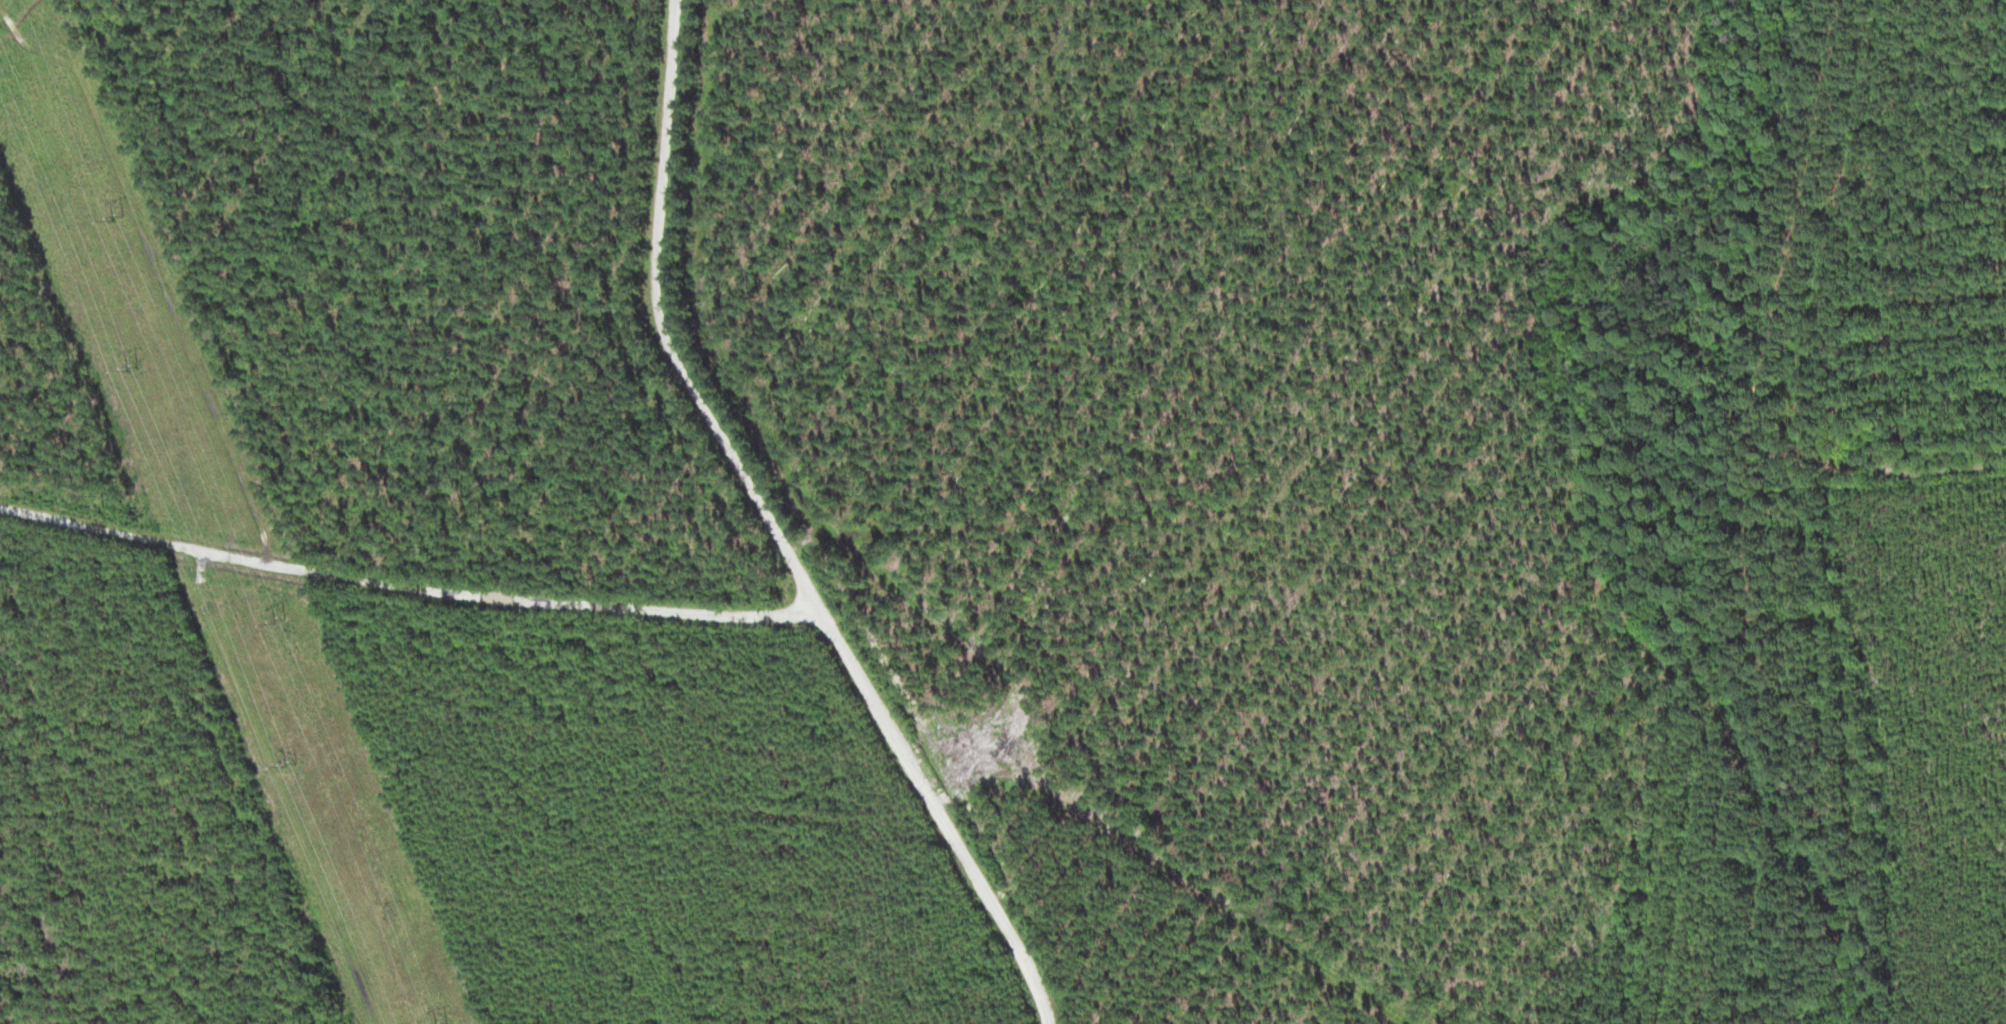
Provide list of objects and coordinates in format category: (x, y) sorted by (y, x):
power tower: (119, 219)
road: (688, 322)
power tower: (134, 369)
road: (648, 597)
power tower: (281, 620)
power tower: (295, 763)

